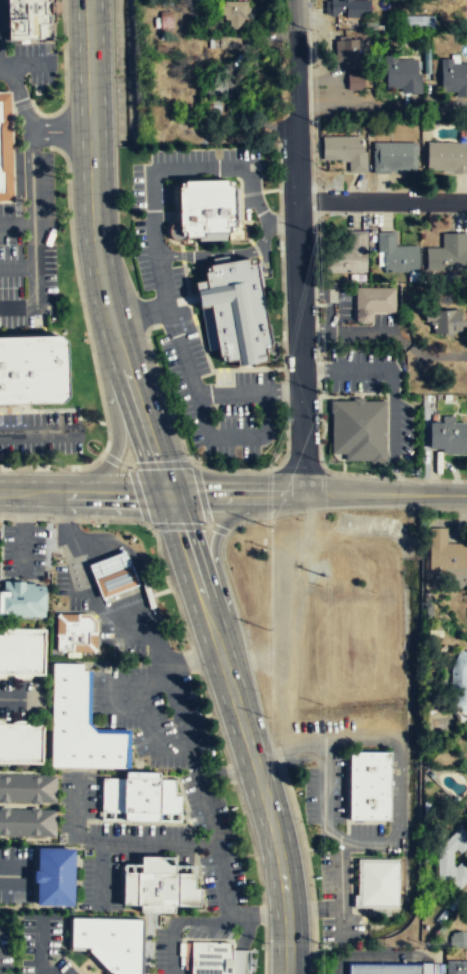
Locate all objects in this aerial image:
building: (349, 8)
building: (233, 14)
street lamp: (60, 15)
building: (26, 19)
road: (52, 20)
building: (165, 24)
street lamp: (305, 26)
road: (28, 41)
building: (225, 45)
building: (346, 53)
road: (29, 62)
road: (64, 74)
building: (403, 76)
building: (453, 78)
building: (353, 82)
road: (3, 96)
road: (6, 103)
road: (19, 106)
road: (28, 125)
building: (344, 152)
building: (446, 157)
road: (7, 158)
building: (394, 158)
road: (186, 167)
street lamp: (63, 168)
road: (278, 180)
building: (0, 182)
road: (271, 189)
road: (251, 192)
road: (381, 200)
building: (207, 207)
road: (240, 209)
road: (280, 222)
road: (282, 223)
road: (17, 224)
road: (34, 235)
parking lot: (29, 246)
road: (297, 246)
road: (255, 248)
road: (98, 254)
road: (220, 254)
building: (448, 254)
road: (182, 255)
building: (351, 256)
building: (395, 256)
road: (259, 259)
road: (17, 267)
flagpole: (188, 268)
road: (80, 296)
road: (191, 297)
street lamp: (78, 299)
building: (372, 303)
road: (282, 305)
building: (236, 310)
road: (176, 323)
building: (444, 323)
road: (171, 324)
road: (203, 346)
building: (31, 368)
road: (281, 368)
parking lot: (360, 369)
road: (207, 373)
road: (284, 388)
road: (166, 390)
road: (282, 390)
road: (113, 412)
road: (264, 426)
parking lot: (400, 427)
building: (358, 429)
street lamp: (104, 430)
road: (36, 432)
parking lot: (40, 432)
building: (446, 437)
road: (111, 459)
road: (161, 464)
road: (125, 465)
road: (52, 466)
road: (268, 467)
street lamp: (68, 469)
road: (201, 493)
road: (319, 493)
road: (86, 494)
road: (138, 495)
traffic signals: (172, 497)
road: (74, 519)
street lamp: (300, 519)
road: (178, 525)
road: (218, 528)
road: (24, 531)
road: (227, 533)
road: (214, 540)
power tower: (267, 544)
building: (446, 554)
road: (116, 573)
building: (115, 579)
gas station: (115, 579)
power tower: (322, 582)
road: (169, 585)
building: (21, 598)
power tower: (267, 628)
building: (74, 631)
building: (21, 649)
road: (192, 657)
road: (195, 661)
building: (458, 679)
road: (118, 688)
street lamp: (260, 690)
road: (12, 692)
road: (235, 702)
road: (142, 711)
parking lot: (153, 711)
road: (207, 714)
road: (7, 718)
road: (214, 719)
building: (78, 724)
road: (162, 727)
road: (95, 729)
building: (19, 741)
road: (290, 753)
road: (190, 754)
road: (401, 757)
road: (227, 772)
building: (369, 784)
building: (27, 787)
building: (139, 795)
road: (324, 795)
building: (27, 821)
parking lot: (110, 840)
road: (364, 843)
road: (154, 844)
road: (58, 846)
road: (78, 847)
road: (33, 855)
building: (451, 858)
parking lot: (16, 874)
road: (9, 875)
building: (53, 875)
road: (100, 875)
building: (377, 881)
building: (159, 884)
road: (341, 900)
road: (46, 905)
road: (16, 906)
road: (259, 914)
road: (81, 915)
building: (466, 918)
road: (342, 920)
road: (177, 922)
building: (458, 939)
building: (110, 941)
road: (289, 942)
parking lot: (42, 944)
road: (40, 945)
parking lot: (5, 949)
road: (376, 954)
building: (210, 957)
road: (92, 959)
road: (398, 964)
building: (456, 967)
building: (429, 968)
building: (385, 969)
road: (85, 971)

